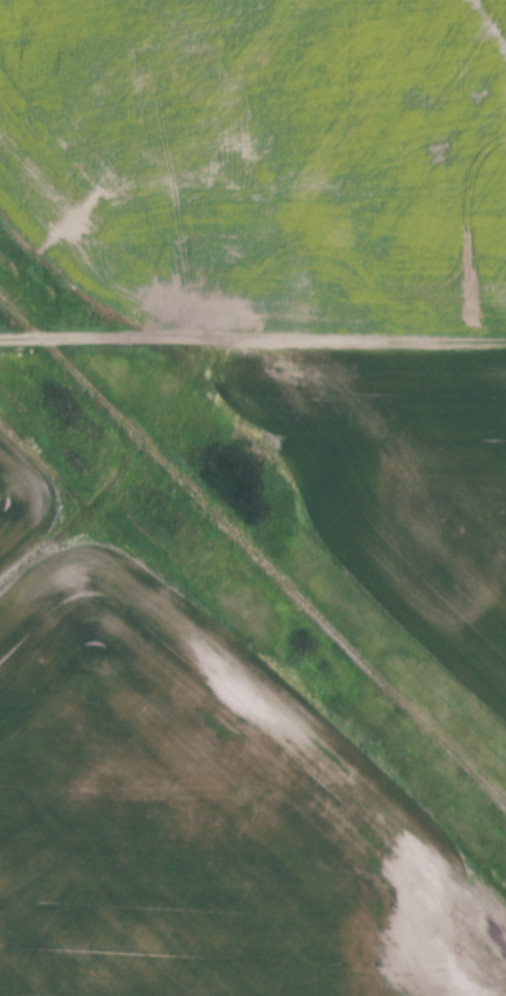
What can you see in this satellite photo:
road: (253, 336)

